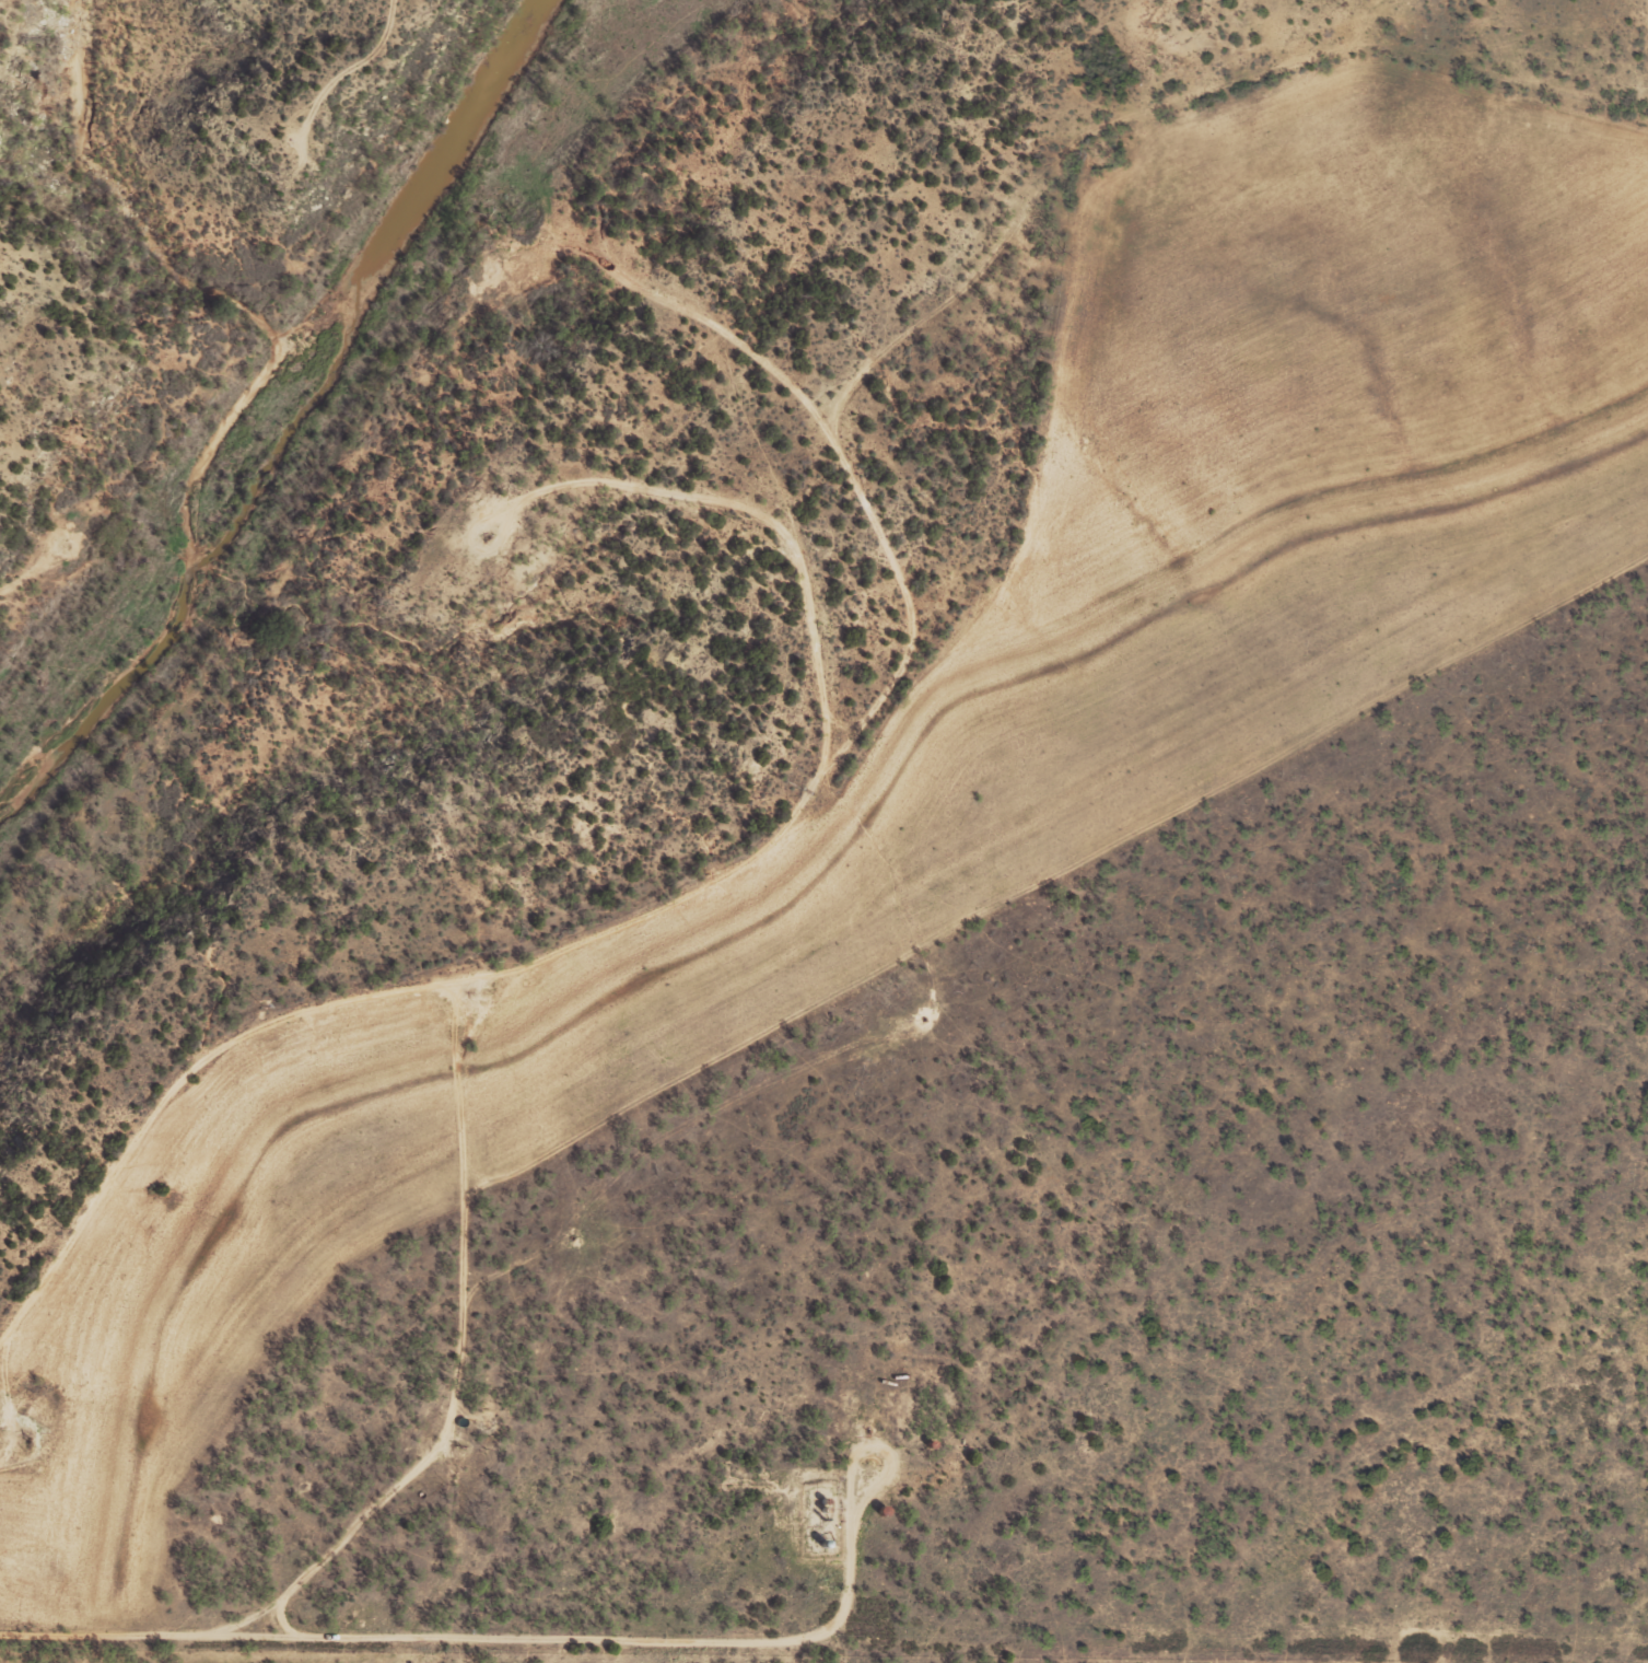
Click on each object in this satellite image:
road: (790, 361)
river: (254, 396)
road: (901, 676)

